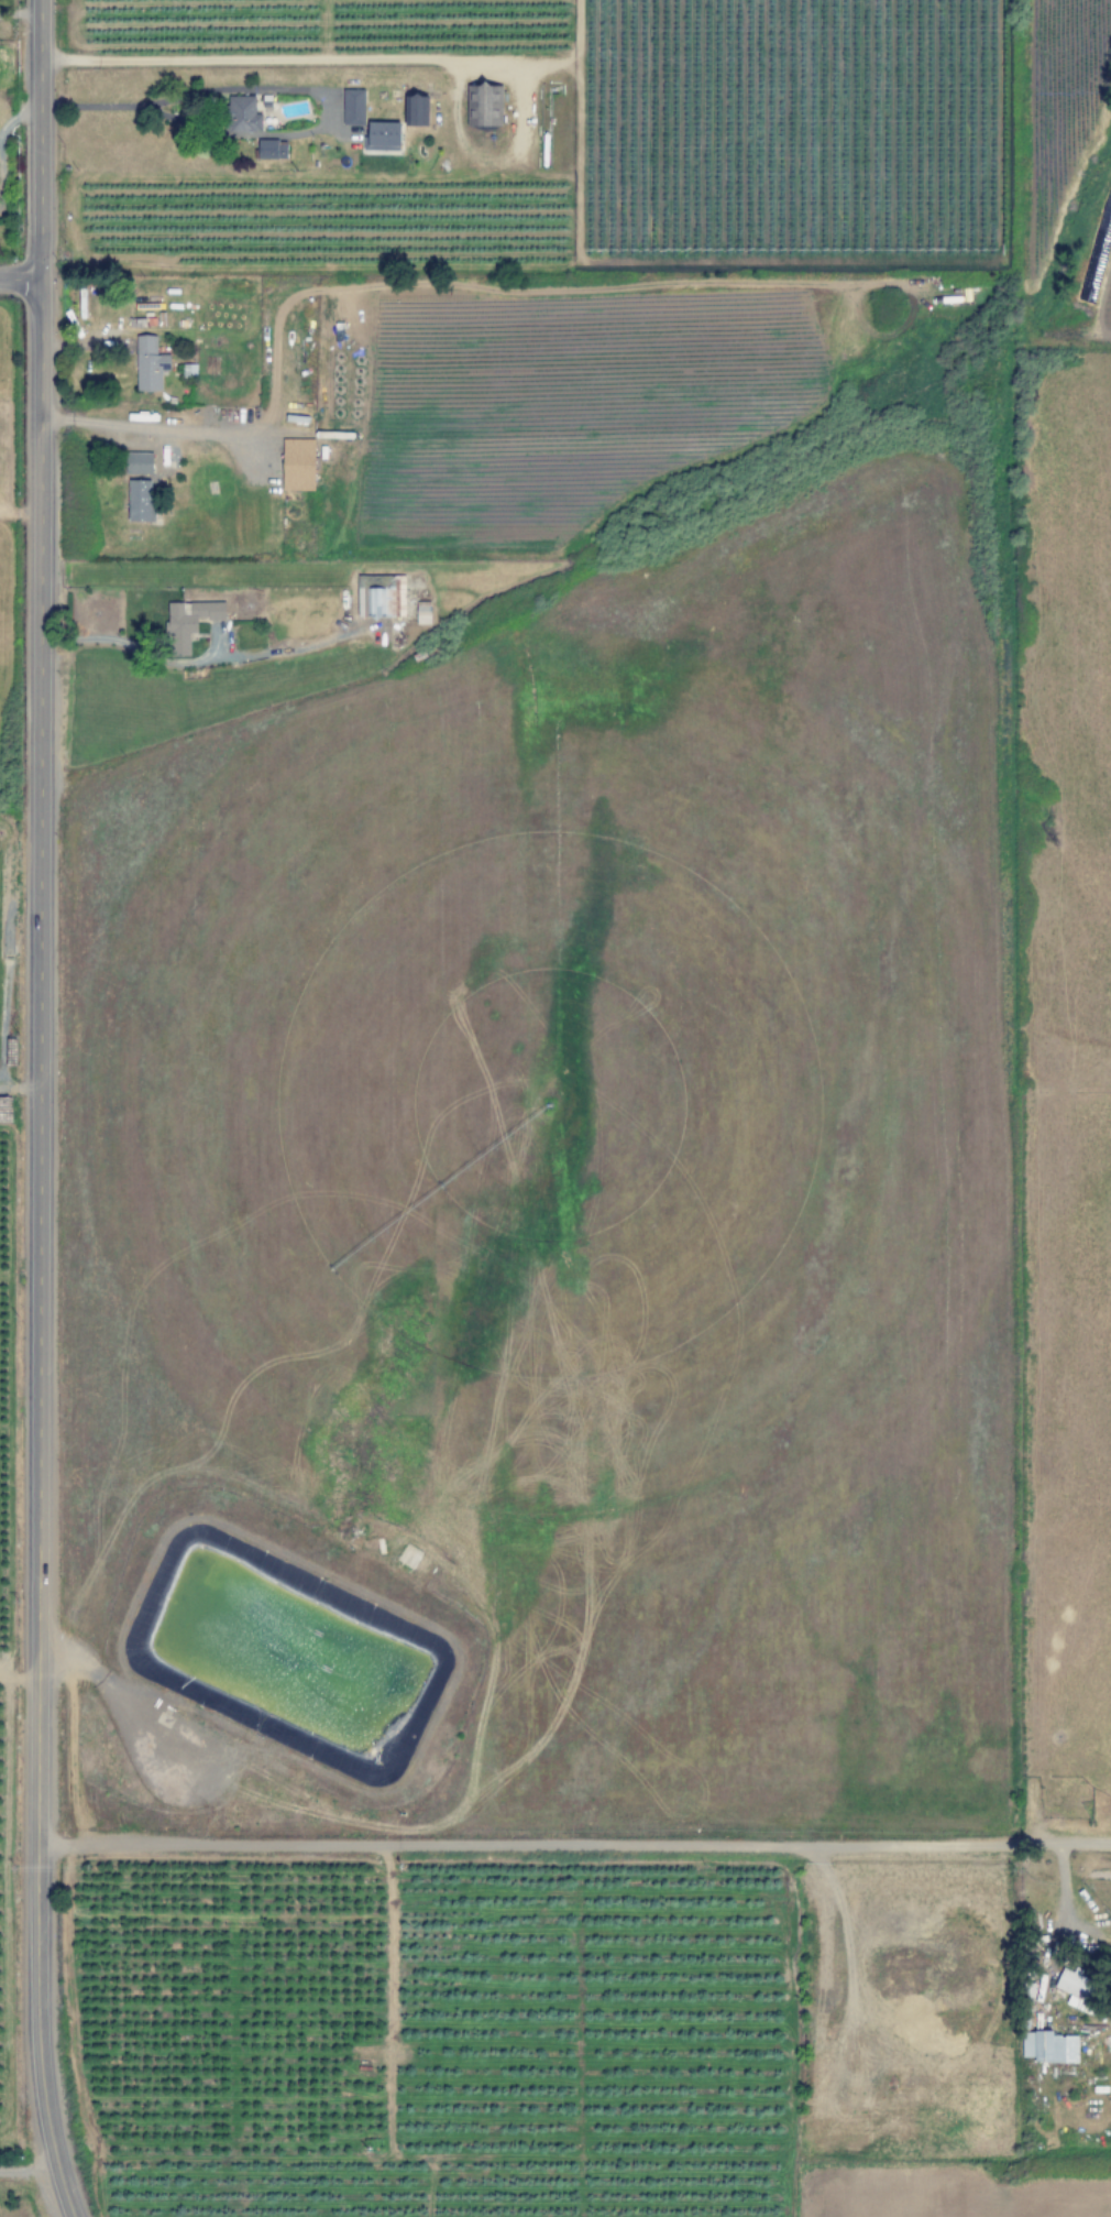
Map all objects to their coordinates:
building: (486, 105)
building: (353, 107)
building: (419, 111)
building: (242, 114)
building: (384, 136)
building: (272, 150)
road: (22, 281)
building: (148, 364)
building: (137, 462)
building: (298, 465)
building: (140, 501)
building: (381, 597)
building: (422, 613)
building: (188, 622)
road: (43, 1110)
road: (576, 1845)
building: (1078, 1990)
building: (1048, 2047)

